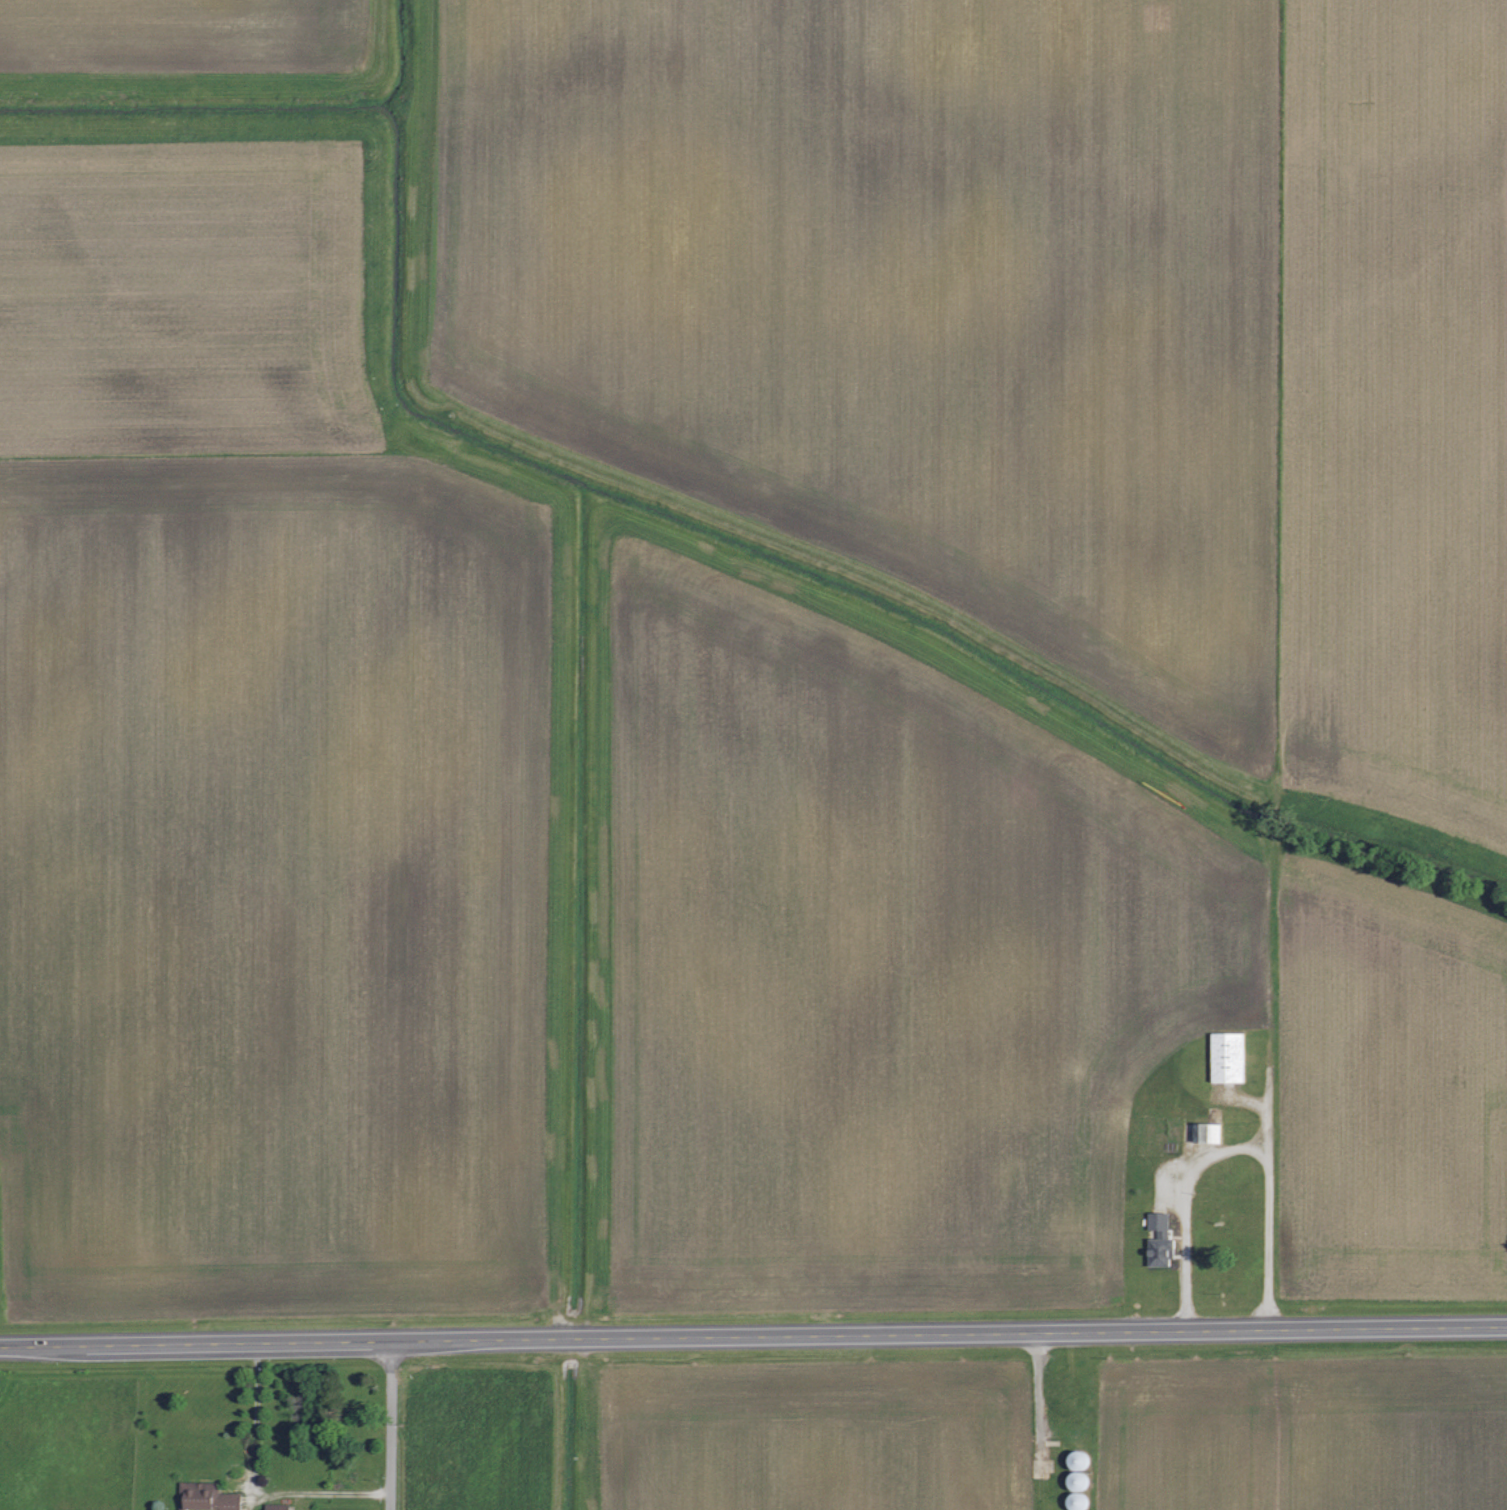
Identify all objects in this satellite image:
building: (1227, 1056)
road: (1263, 1106)
building: (1205, 1132)
road: (1238, 1148)
building: (1158, 1240)
road: (753, 1336)
road: (392, 1425)
building: (207, 1497)
building: (275, 1506)

